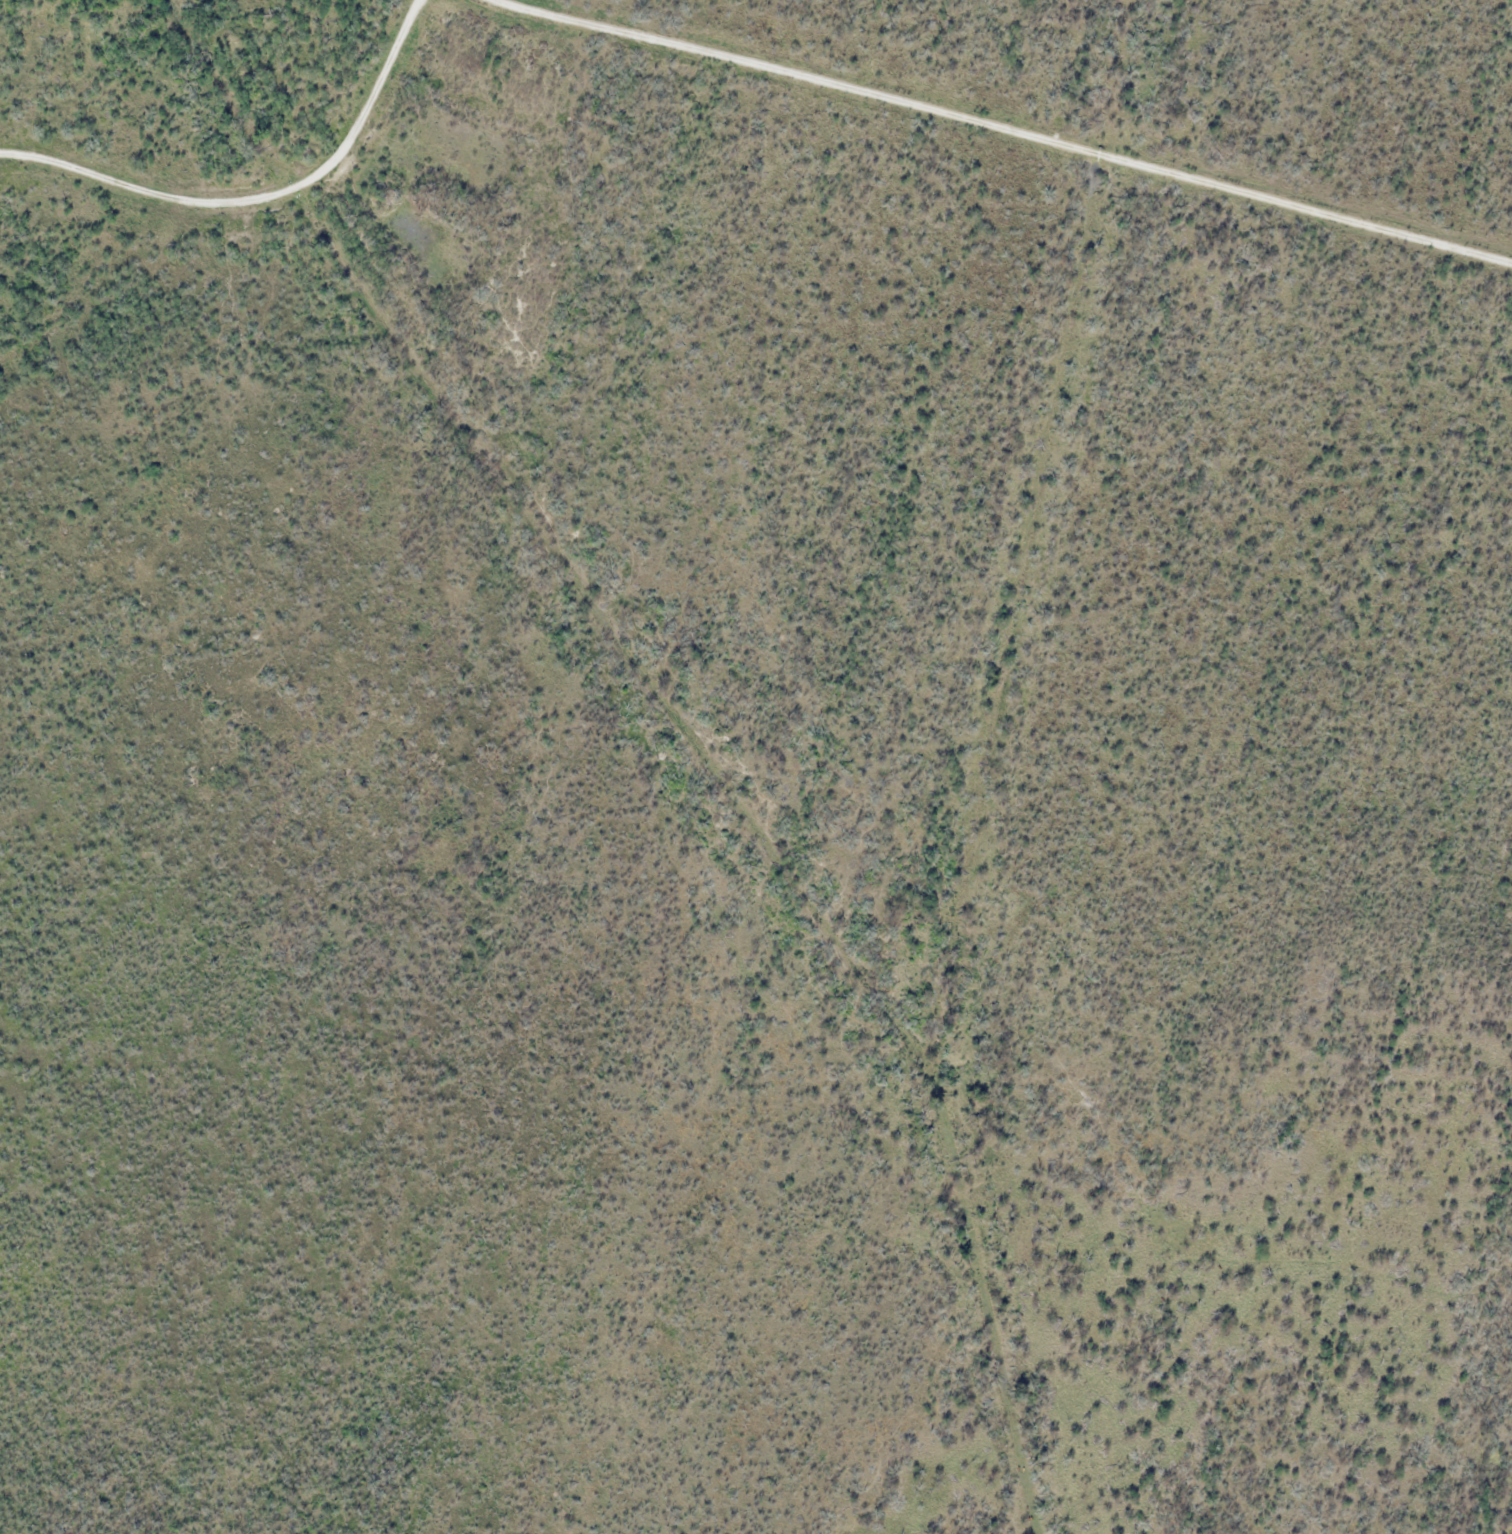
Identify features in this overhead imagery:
road: (1023, 131)
road: (254, 190)

